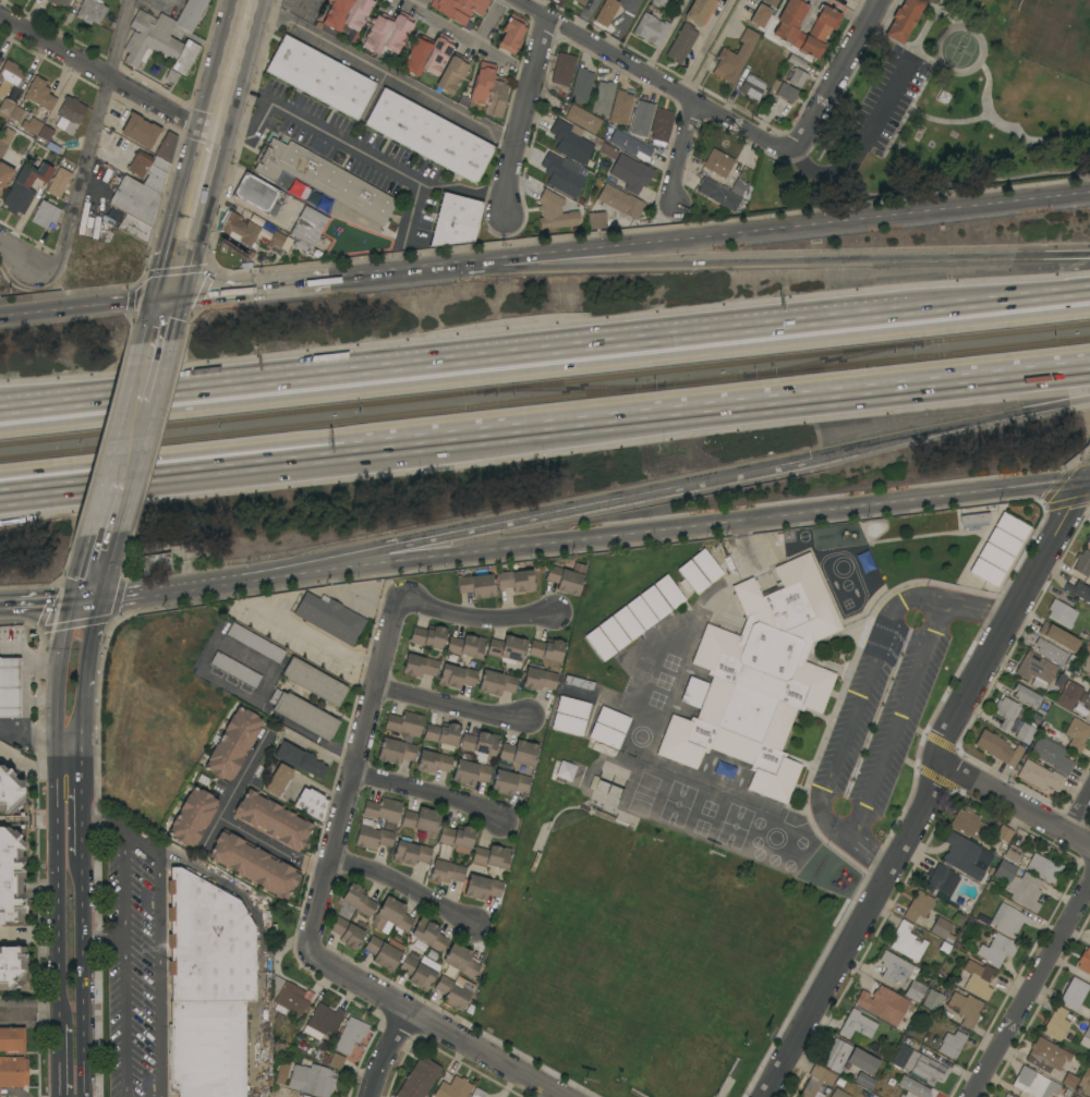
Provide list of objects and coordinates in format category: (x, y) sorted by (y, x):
building: (120, 0)
building: (778, 0)
building: (581, 1)
building: (59, 2)
building: (658, 2)
building: (771, 3)
road: (535, 4)
building: (458, 9)
building: (90, 11)
building: (700, 11)
building: (605, 12)
building: (347, 13)
road: (585, 17)
building: (760, 17)
building: (904, 20)
road: (620, 26)
building: (651, 28)
building: (785, 29)
building: (386, 34)
building: (511, 34)
road: (665, 36)
building: (165, 37)
road: (469, 37)
building: (681, 44)
road: (702, 46)
building: (426, 54)
building: (0, 58)
building: (734, 58)
building: (795, 61)
road: (231, 65)
building: (562, 69)
road: (381, 71)
road: (834, 74)
building: (451, 75)
building: (9, 77)
building: (319, 77)
road: (652, 77)
building: (797, 77)
road: (106, 80)
building: (581, 86)
building: (751, 87)
building: (487, 90)
building: (786, 93)
building: (39, 94)
building: (603, 98)
building: (620, 108)
building: (5, 109)
park: (948, 111)
building: (16, 113)
building: (70, 114)
road: (519, 115)
building: (641, 118)
building: (582, 119)
building: (32, 125)
building: (659, 129)
building: (138, 130)
building: (46, 133)
building: (5, 135)
building: (428, 135)
building: (571, 141)
road: (92, 143)
building: (630, 145)
road: (862, 146)
building: (166, 147)
building: (2, 148)
road: (678, 150)
road: (364, 153)
building: (723, 166)
building: (149, 170)
building: (630, 173)
building: (4, 174)
road: (204, 174)
building: (562, 174)
building: (323, 179)
building: (58, 182)
building: (24, 187)
building: (740, 188)
building: (255, 193)
building: (717, 195)
building: (135, 200)
building: (620, 202)
road: (413, 209)
building: (554, 211)
building: (45, 214)
building: (455, 220)
building: (596, 220)
building: (308, 227)
building: (134, 228)
building: (238, 229)
road: (760, 230)
building: (275, 241)
road: (19, 255)
road: (182, 257)
road: (761, 263)
road: (383, 272)
road: (252, 288)
traffic signals: (171, 297)
road: (1006, 297)
road: (130, 302)
road: (44, 312)
road: (163, 326)
railway: (825, 359)
road: (461, 363)
railway: (544, 382)
railway: (564, 388)
railway: (544, 398)
road: (142, 404)
road: (625, 414)
road: (949, 428)
road: (81, 474)
road: (1089, 477)
road: (1089, 477)
road: (116, 492)
road: (558, 510)
building: (974, 517)
road: (698, 523)
building: (1012, 526)
building: (1087, 540)
building: (1003, 541)
building: (994, 557)
building: (155, 563)
building: (1082, 563)
road: (94, 565)
building: (706, 565)
building: (985, 572)
building: (692, 576)
building: (566, 578)
building: (516, 581)
road: (195, 585)
building: (475, 585)
building: (668, 590)
building: (1079, 590)
road: (363, 598)
traffic signals: (83, 599)
road: (41, 601)
building: (654, 602)
building: (641, 612)
building: (1061, 613)
road: (475, 614)
building: (329, 618)
building: (627, 623)
building: (613, 633)
building: (427, 636)
road: (311, 637)
building: (1058, 637)
building: (255, 643)
building: (598, 644)
road: (74, 645)
building: (465, 646)
building: (507, 649)
building: (546, 649)
road: (11, 650)
building: (583, 653)
building: (1054, 654)
building: (1083, 661)
building: (419, 666)
building: (234, 670)
building: (1037, 672)
building: (456, 677)
building: (537, 678)
building: (760, 679)
building: (314, 682)
building: (496, 683)
building: (9, 687)
building: (693, 692)
road: (862, 692)
road: (23, 694)
building: (574, 694)
building: (1074, 694)
building: (1026, 695)
road: (46, 703)
road: (451, 704)
building: (572, 707)
building: (1006, 712)
building: (303, 714)
road: (898, 718)
building: (611, 719)
building: (404, 724)
building: (568, 724)
road: (71, 732)
building: (1025, 733)
road: (11, 734)
building: (1076, 734)
building: (441, 735)
building: (605, 735)
building: (232, 744)
building: (480, 744)
building: (997, 747)
building: (602, 748)
building: (395, 751)
building: (1052, 755)
building: (300, 759)
road: (33, 766)
road: (351, 767)
building: (472, 768)
building: (504, 768)
building: (565, 770)
building: (1039, 777)
building: (278, 780)
building: (588, 780)
road: (929, 788)
road: (425, 790)
building: (9, 791)
building: (311, 803)
road: (1016, 803)
road: (1078, 809)
building: (383, 812)
building: (192, 817)
road: (219, 818)
building: (271, 820)
building: (421, 820)
building: (968, 826)
road: (71, 829)
building: (1003, 833)
building: (372, 836)
building: (457, 838)
road: (132, 841)
building: (410, 853)
building: (1013, 853)
building: (965, 855)
building: (492, 856)
building: (253, 864)
building: (1044, 867)
road: (314, 869)
building: (446, 871)
building: (10, 876)
road: (403, 882)
building: (943, 883)
building: (1019, 886)
building: (482, 887)
building: (358, 900)
building: (917, 906)
building: (390, 916)
building: (1005, 919)
building: (0, 923)
building: (942, 929)
road: (36, 933)
building: (347, 933)
building: (428, 934)
building: (907, 942)
road: (72, 948)
building: (996, 950)
building: (460, 961)
building: (401, 962)
building: (11, 966)
building: (894, 967)
building: (1089, 972)
building: (977, 979)
building: (207, 988)
road: (1030, 989)
building: (453, 991)
building: (915, 991)
building: (1074, 994)
building: (287, 999)
building: (932, 1000)
building: (880, 1003)
building: (965, 1009)
building: (322, 1021)
road: (433, 1024)
building: (1055, 1024)
building: (857, 1025)
building: (350, 1035)
building: (1086, 1038)
building: (12, 1039)
building: (950, 1044)
road: (388, 1052)
road: (73, 1055)
building: (1045, 1056)
building: (847, 1058)
building: (336, 1061)
building: (918, 1065)
building: (13, 1072)
building: (281, 1074)
building: (419, 1078)
building: (311, 1080)
building: (816, 1081)
building: (863, 1081)
building: (1069, 1081)
building: (1037, 1084)
building: (451, 1085)
building: (915, 1088)
building: (477, 1093)
building: (838, 1094)
building: (302, 1096)
building: (1007, 1096)

